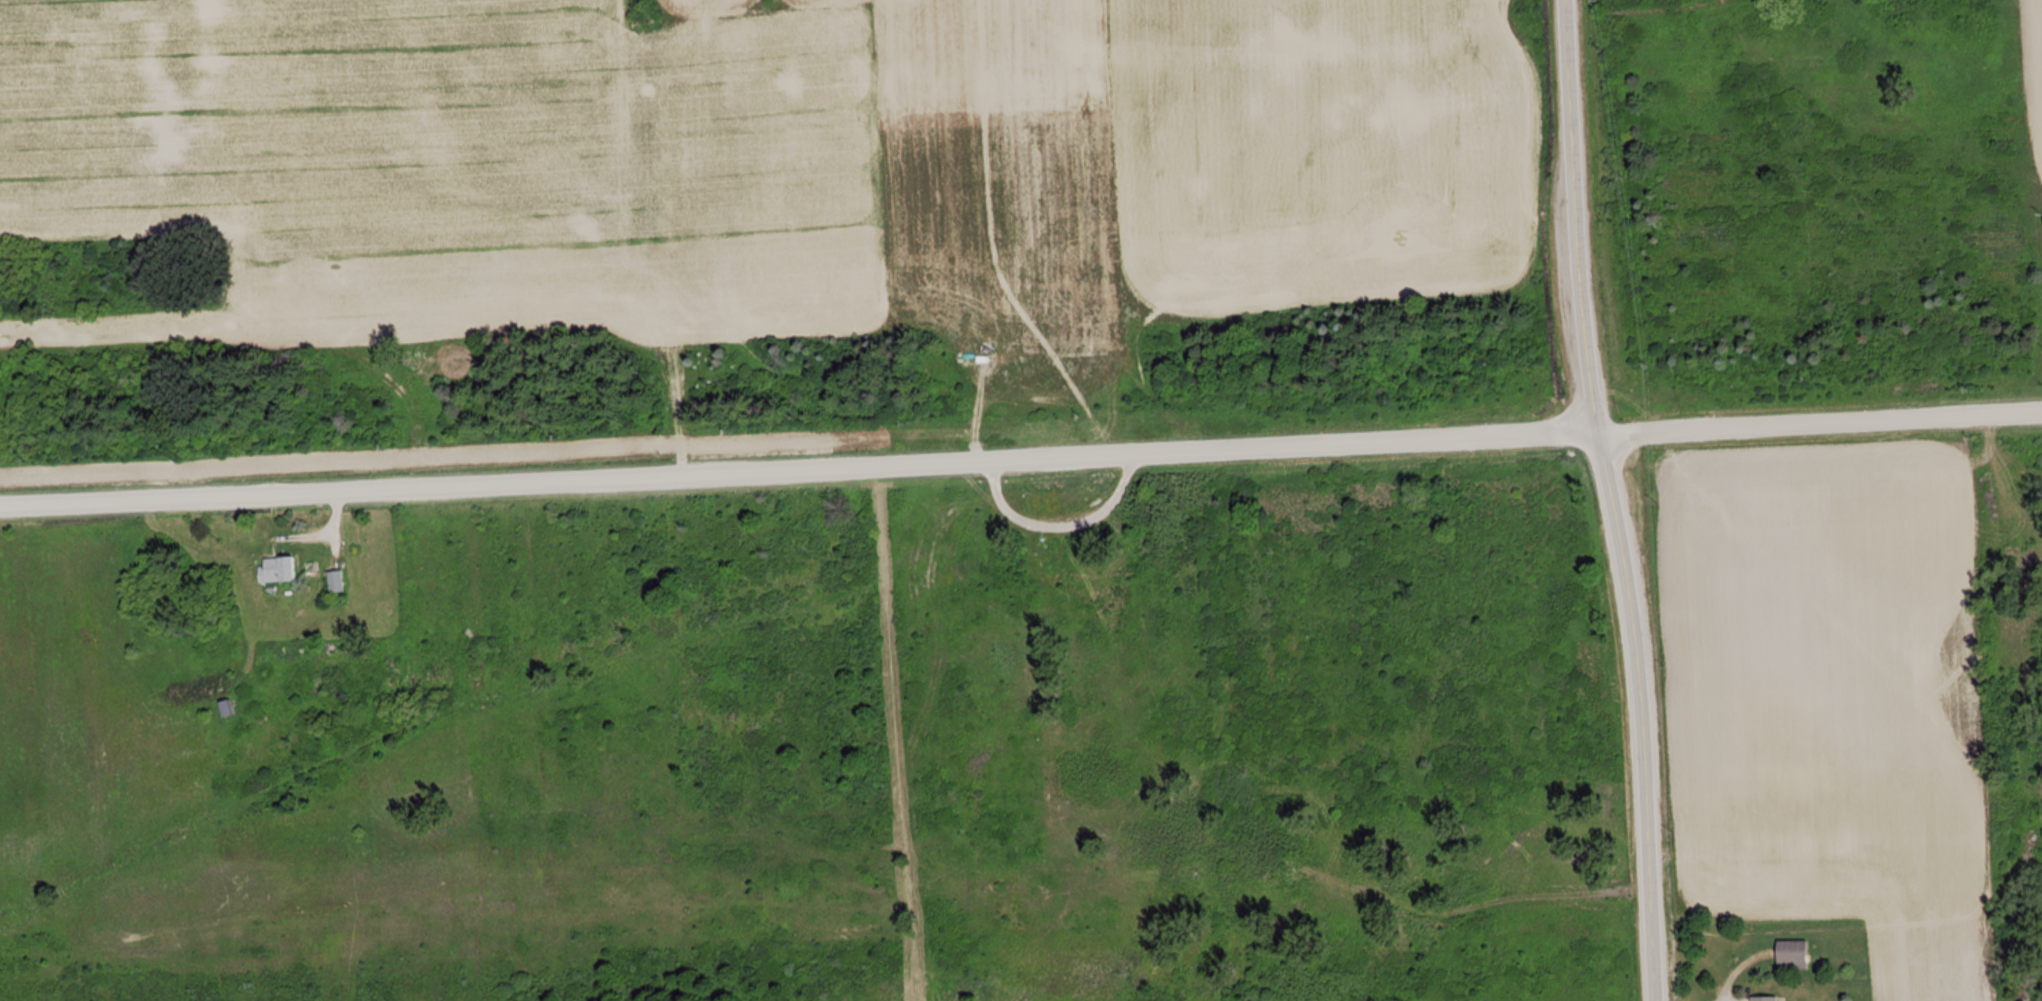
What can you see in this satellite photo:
road: (1682, 17)
road: (1021, 460)
road: (1612, 500)
building: (278, 569)
building: (334, 581)
building: (1791, 955)
building: (1763, 998)

